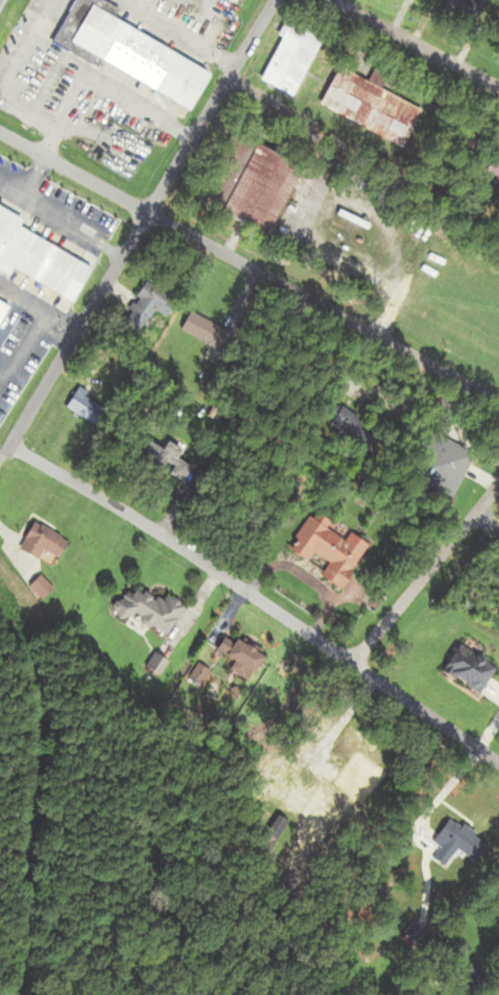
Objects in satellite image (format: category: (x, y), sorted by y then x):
building: (470, 11)
building: (228, 35)
road: (416, 44)
building: (127, 52)
building: (290, 58)
building: (369, 105)
road: (32, 176)
building: (259, 189)
road: (58, 220)
road: (138, 223)
building: (32, 256)
road: (248, 268)
building: (150, 301)
road: (38, 305)
building: (2, 309)
building: (205, 330)
road: (50, 336)
road: (22, 345)
building: (135, 374)
building: (86, 407)
road: (3, 451)
building: (166, 459)
road: (486, 522)
building: (40, 541)
building: (325, 550)
road: (423, 573)
building: (37, 587)
road: (253, 602)
building: (146, 611)
building: (228, 652)
building: (464, 669)
building: (332, 781)
building: (272, 829)
building: (452, 842)

